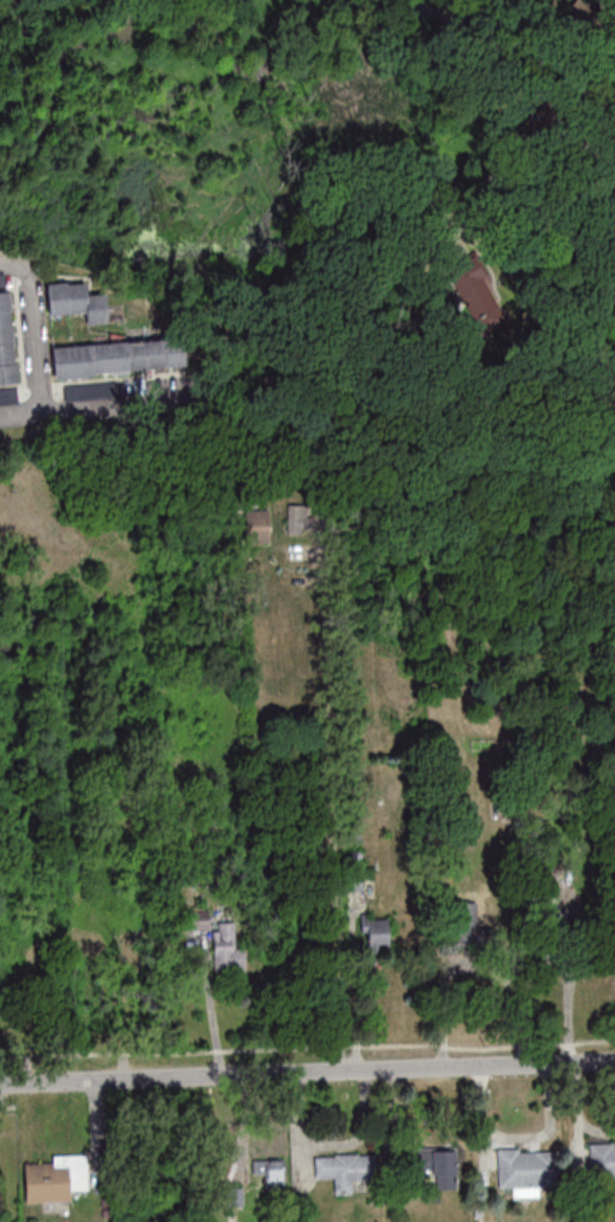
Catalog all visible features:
building: (501, 36)
road: (608, 45)
river: (224, 48)
road: (519, 167)
road: (40, 276)
building: (2, 282)
building: (77, 300)
building: (6, 341)
road: (35, 341)
building: (120, 356)
building: (10, 396)
road: (60, 405)
building: (298, 518)
building: (256, 525)
road: (330, 809)
building: (200, 919)
building: (463, 923)
building: (377, 934)
building: (227, 948)
building: (552, 954)
road: (545, 968)
road: (307, 1070)
building: (602, 1159)
building: (433, 1162)
building: (155, 1163)
building: (344, 1169)
building: (527, 1169)
building: (274, 1175)
building: (55, 1177)
building: (236, 1194)

